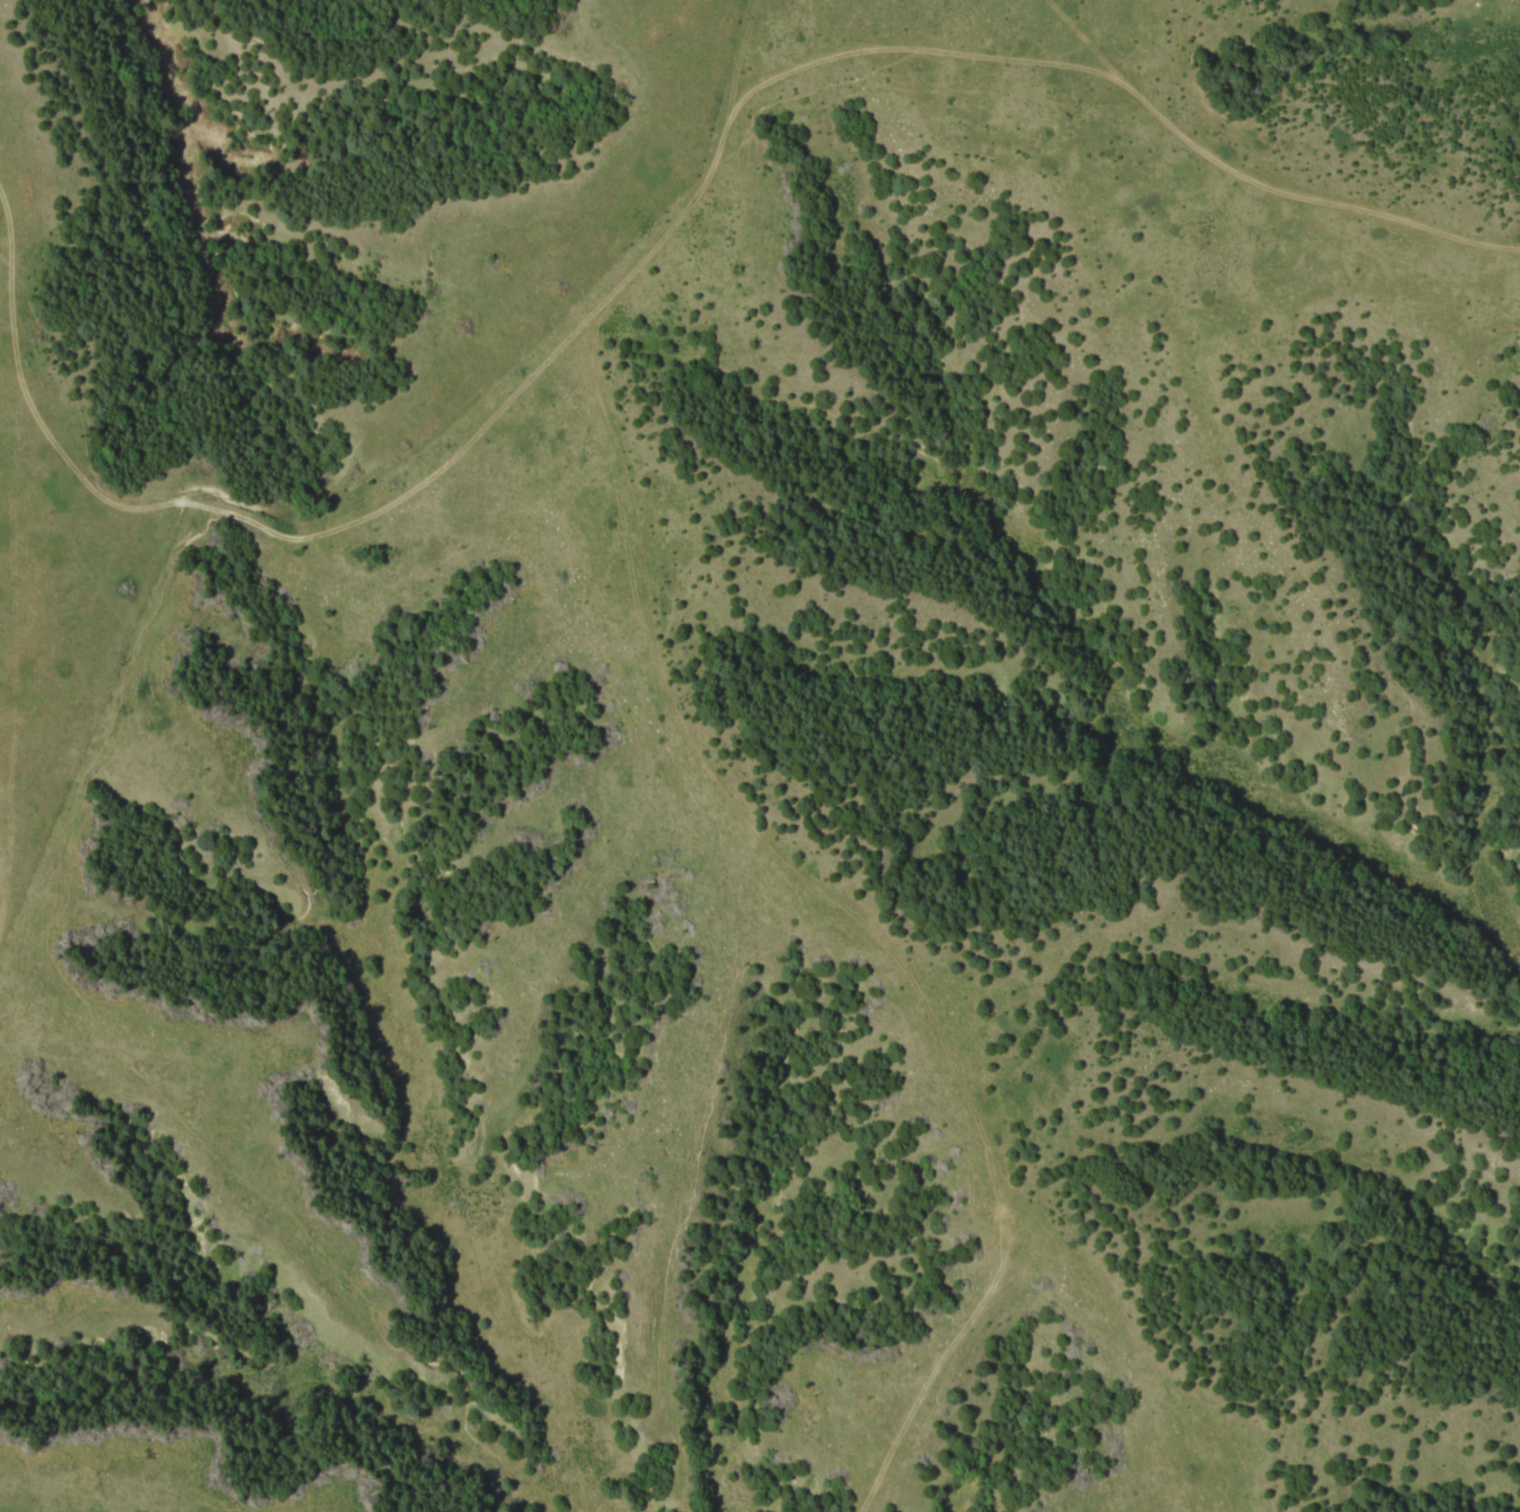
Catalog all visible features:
road: (1254, 176)
road: (491, 416)

